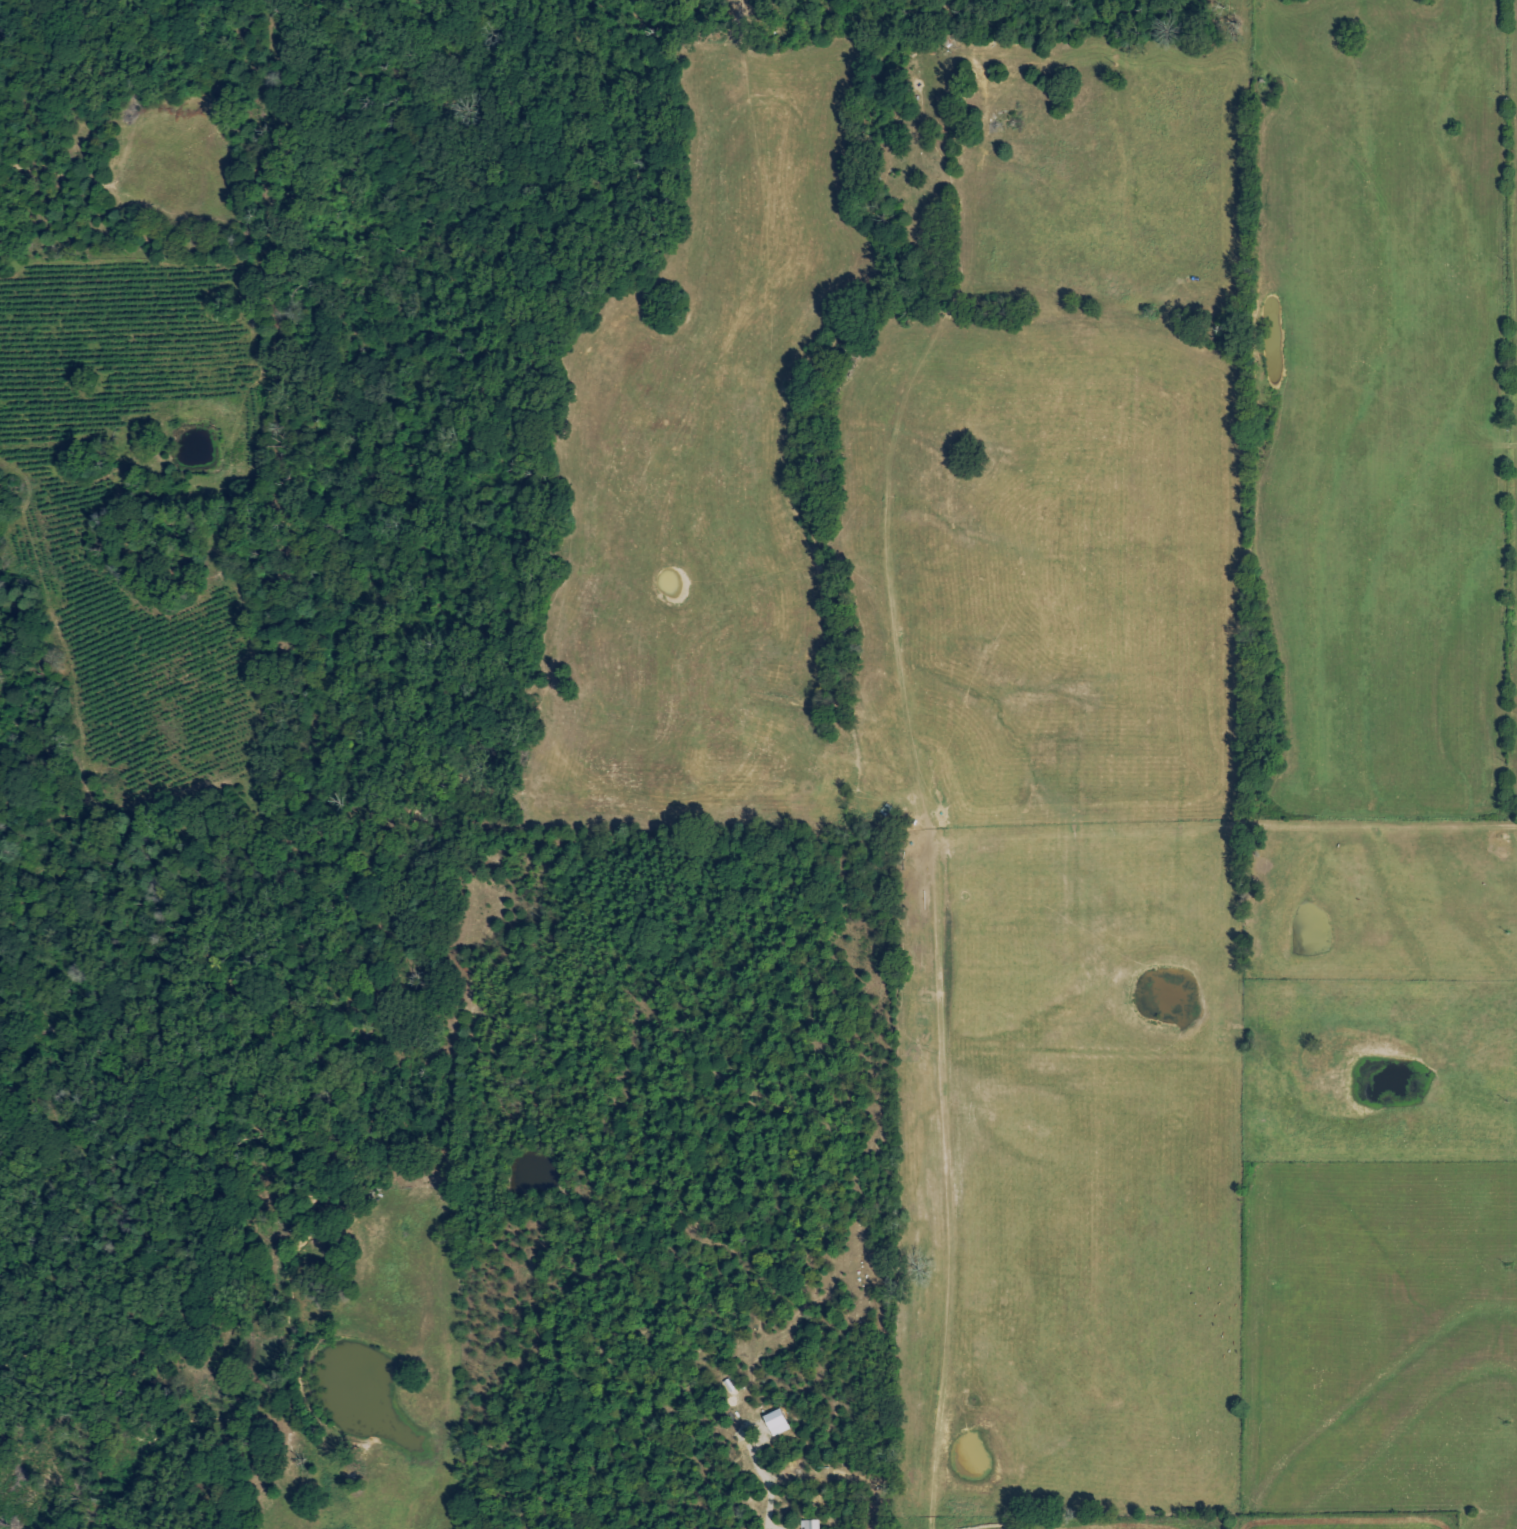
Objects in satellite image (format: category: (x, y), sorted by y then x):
building: (775, 1422)
building: (809, 1524)

